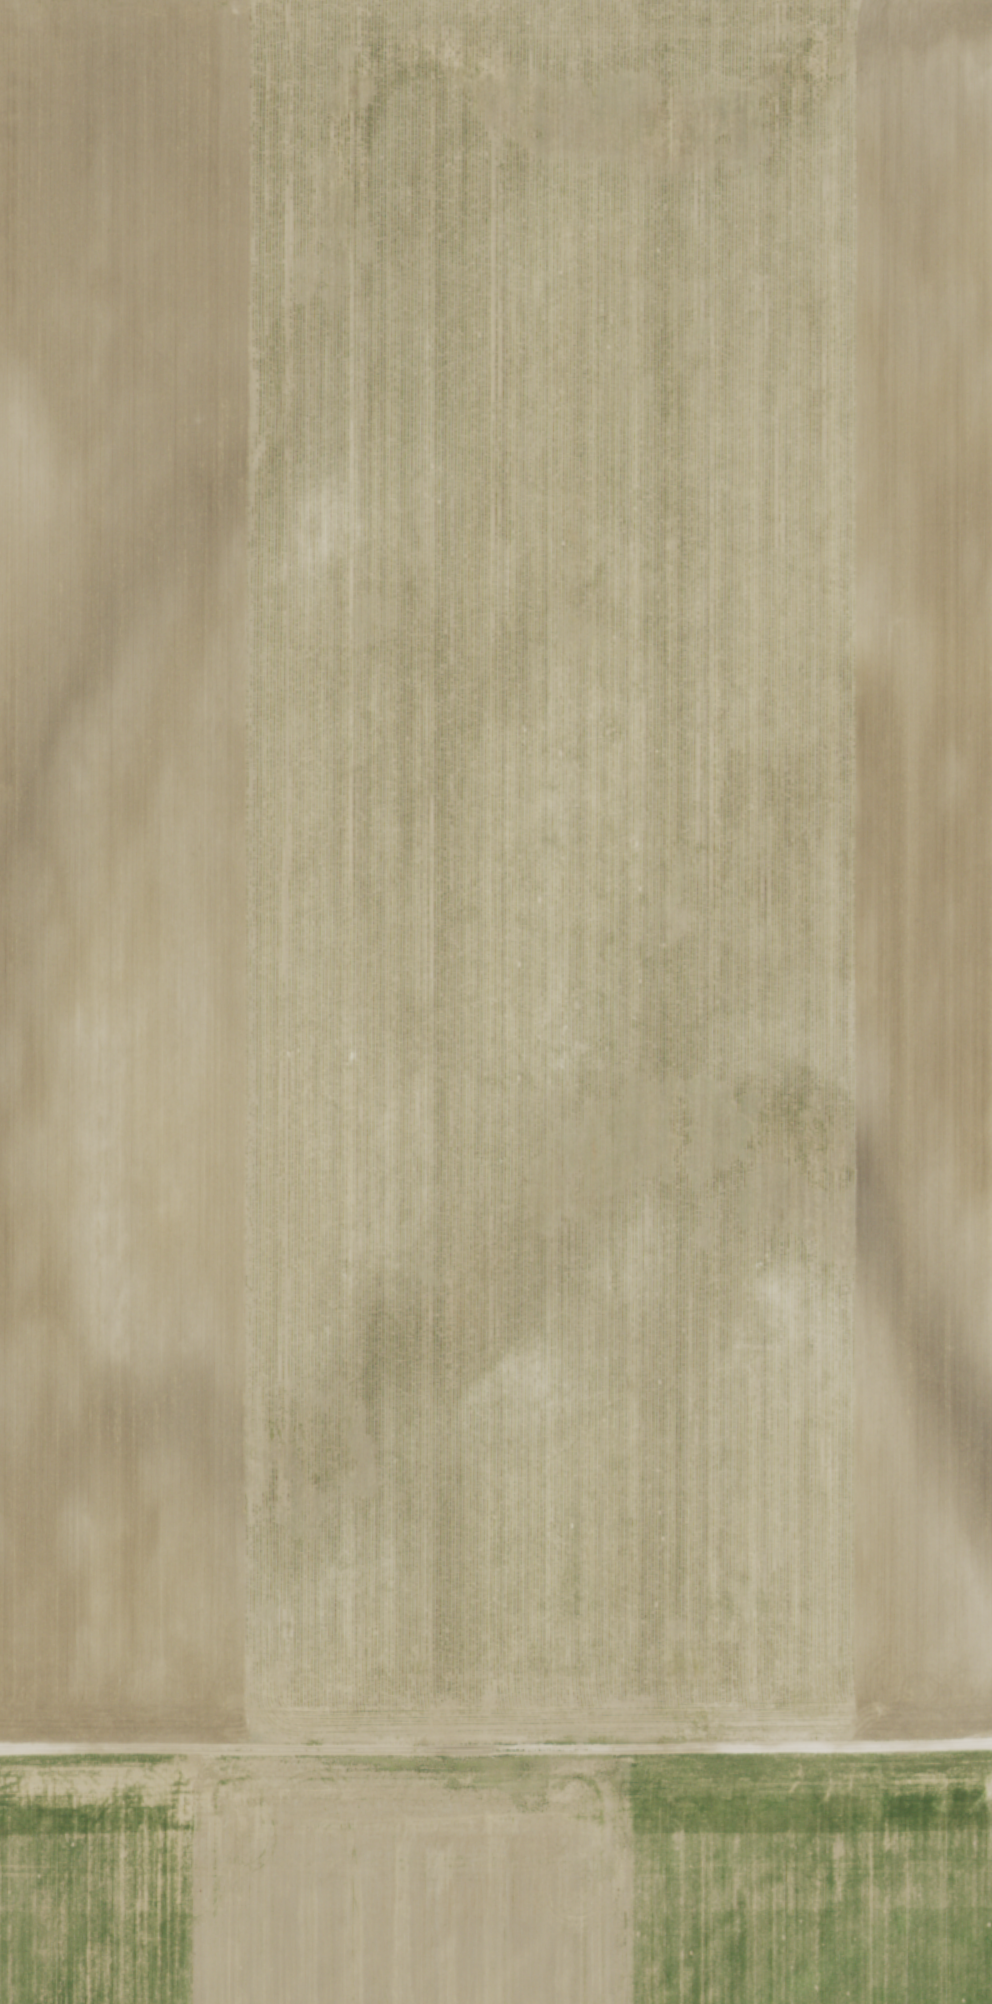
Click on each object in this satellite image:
road: (496, 1753)

